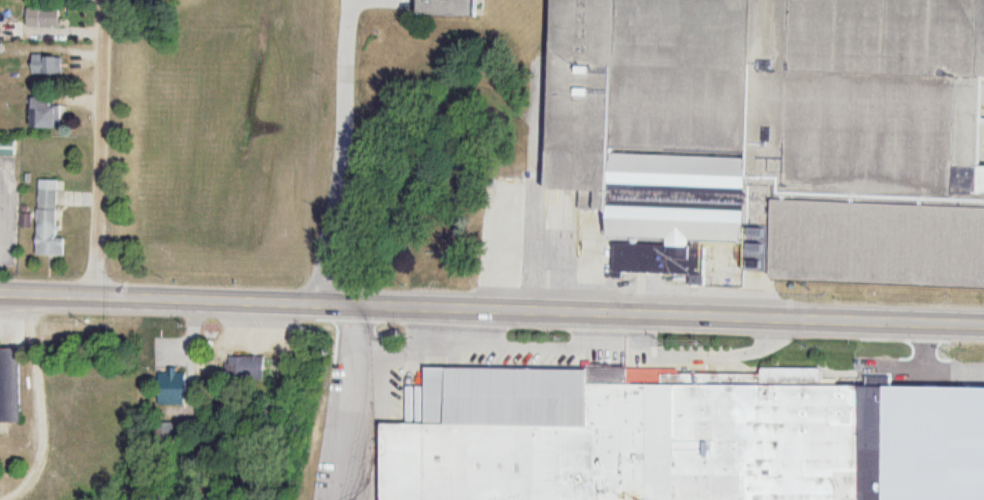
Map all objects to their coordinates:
building: (452, 8)
building: (50, 18)
building: (44, 64)
building: (45, 114)
building: (770, 136)
building: (8, 149)
road: (99, 150)
road: (341, 154)
building: (49, 221)
road: (47, 297)
road: (206, 303)
road: (650, 314)
building: (250, 369)
building: (173, 389)
building: (348, 389)
road: (896, 410)
building: (628, 437)

